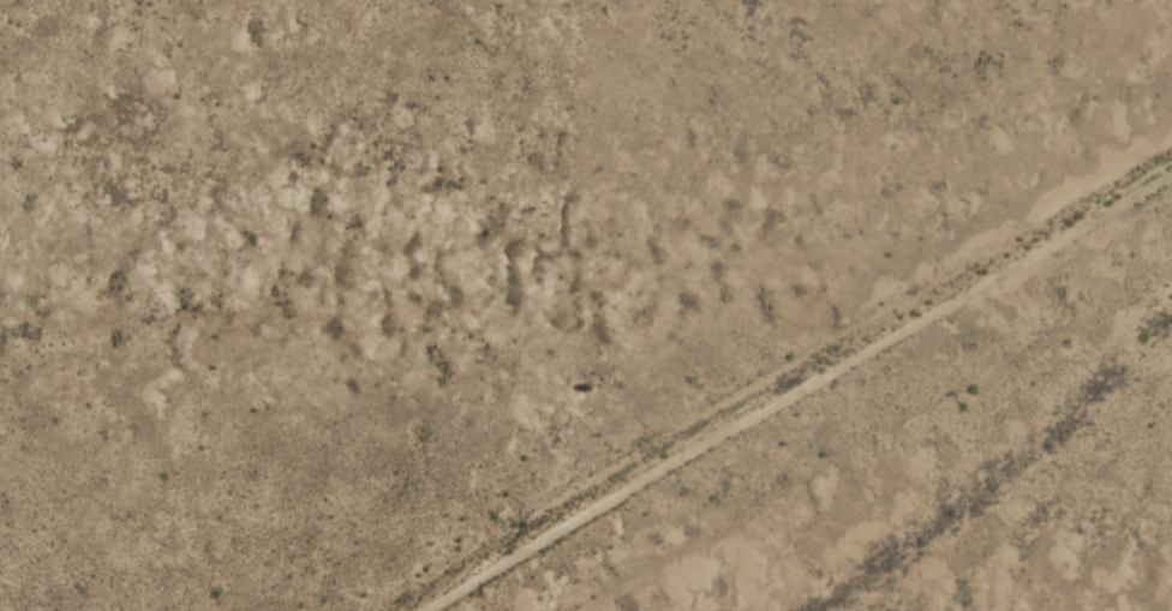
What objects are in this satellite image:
road: (793, 391)

